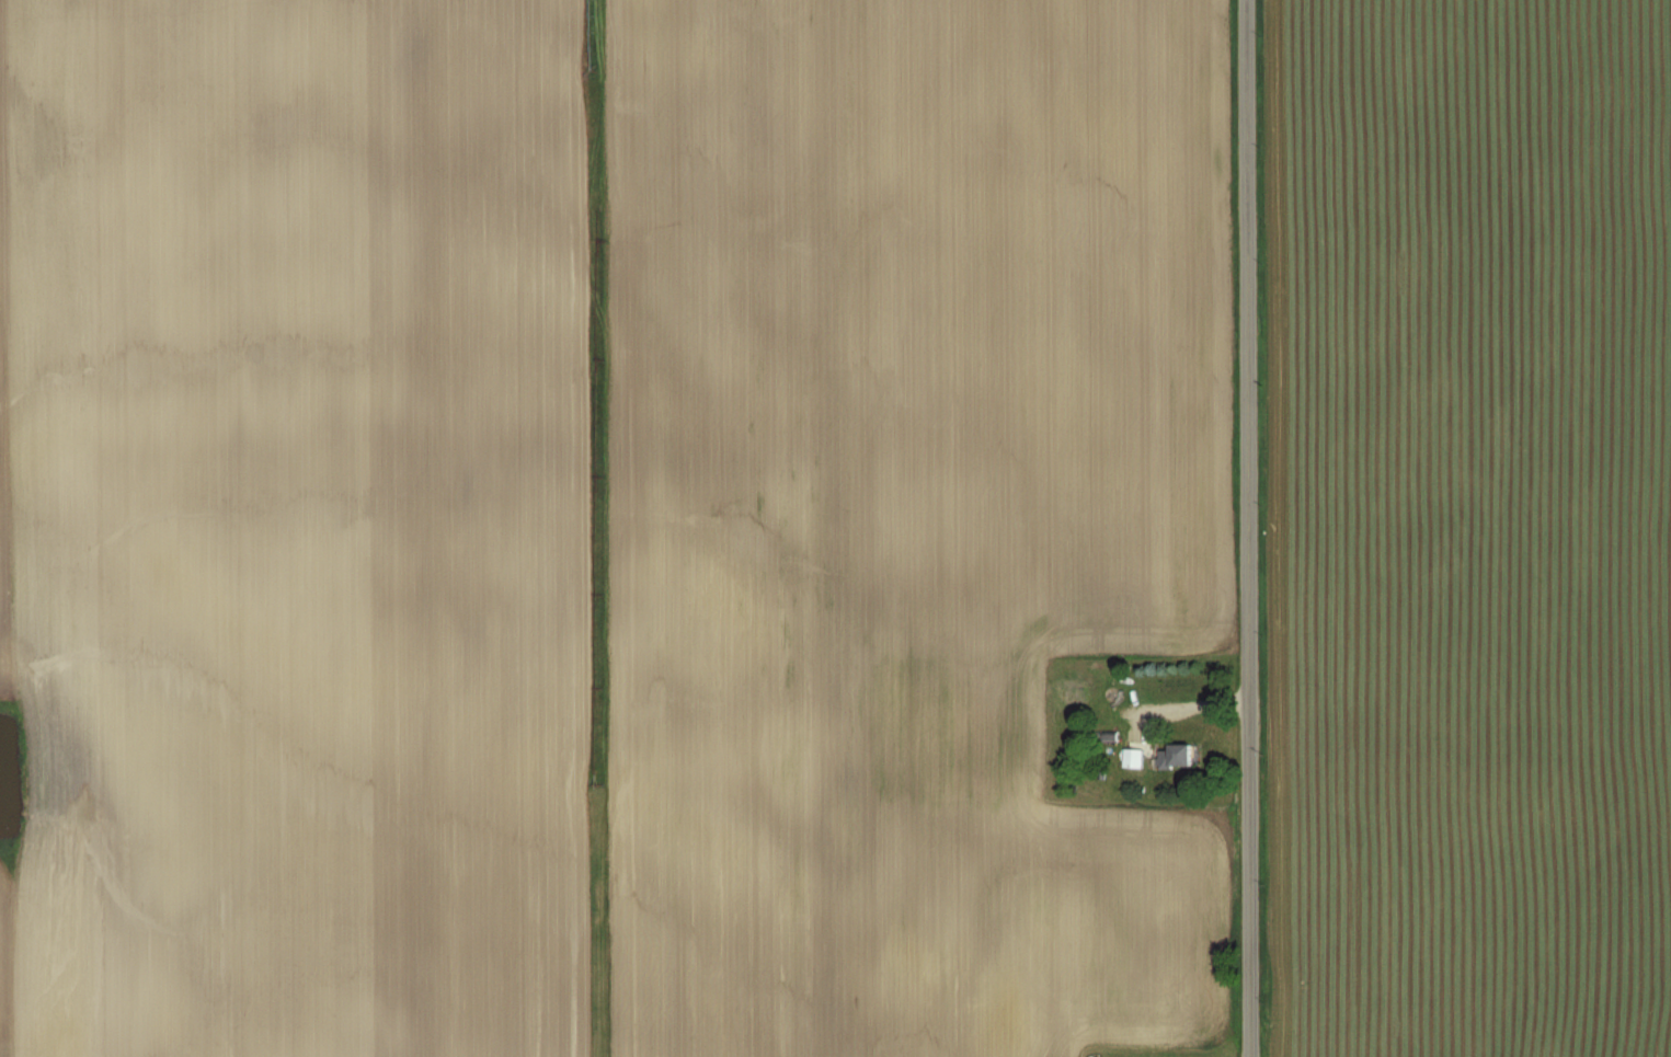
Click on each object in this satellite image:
road: (1249, 528)
building: (1177, 755)
building: (1133, 757)

